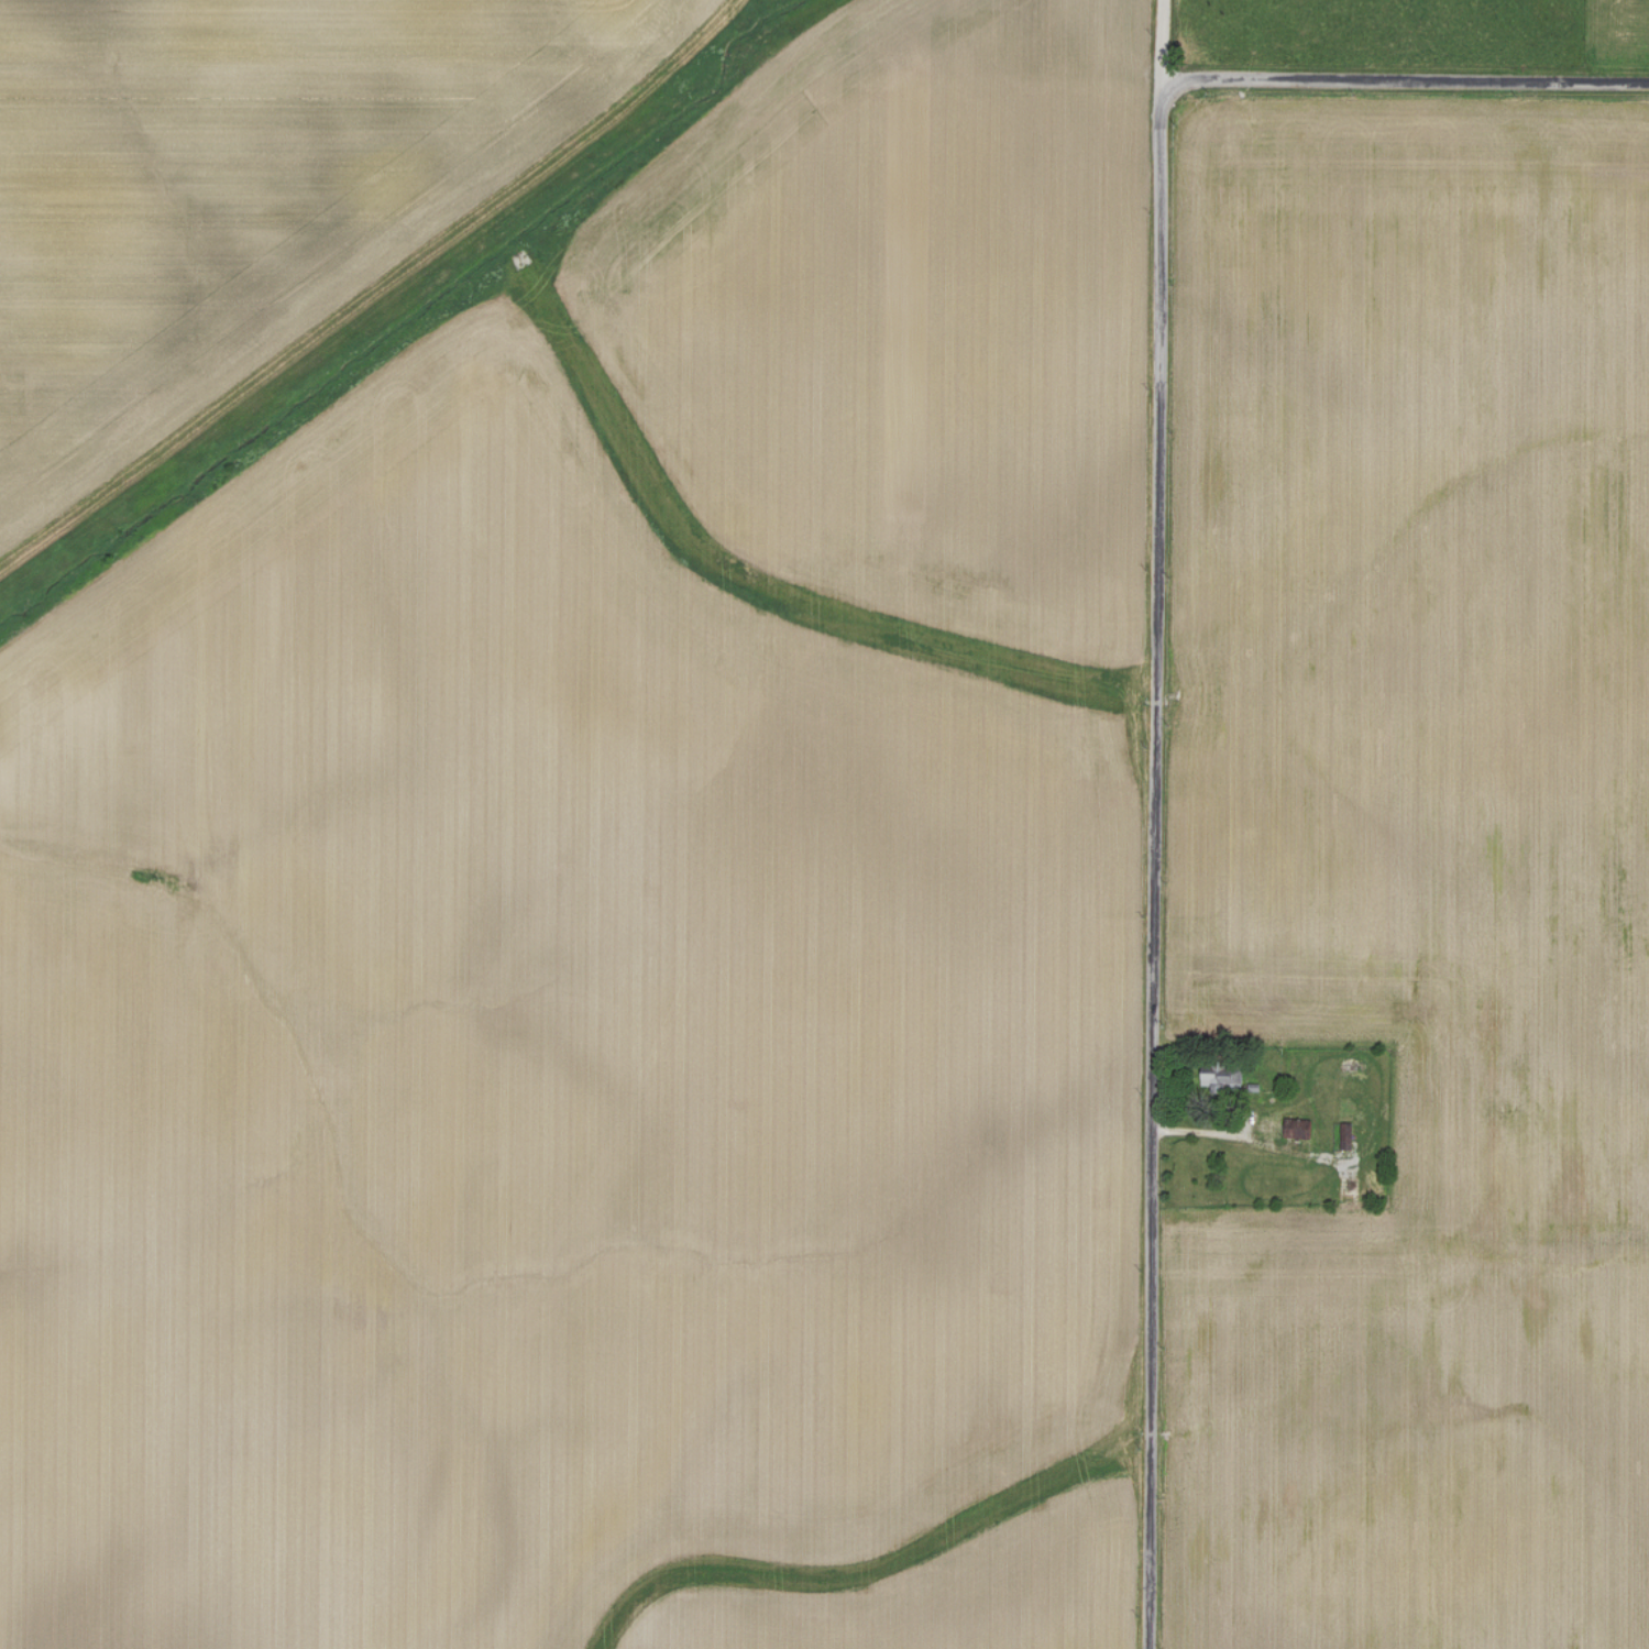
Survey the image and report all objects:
road: (1163, 39)
road: (1406, 77)
road: (1154, 864)
road: (1217, 1128)

